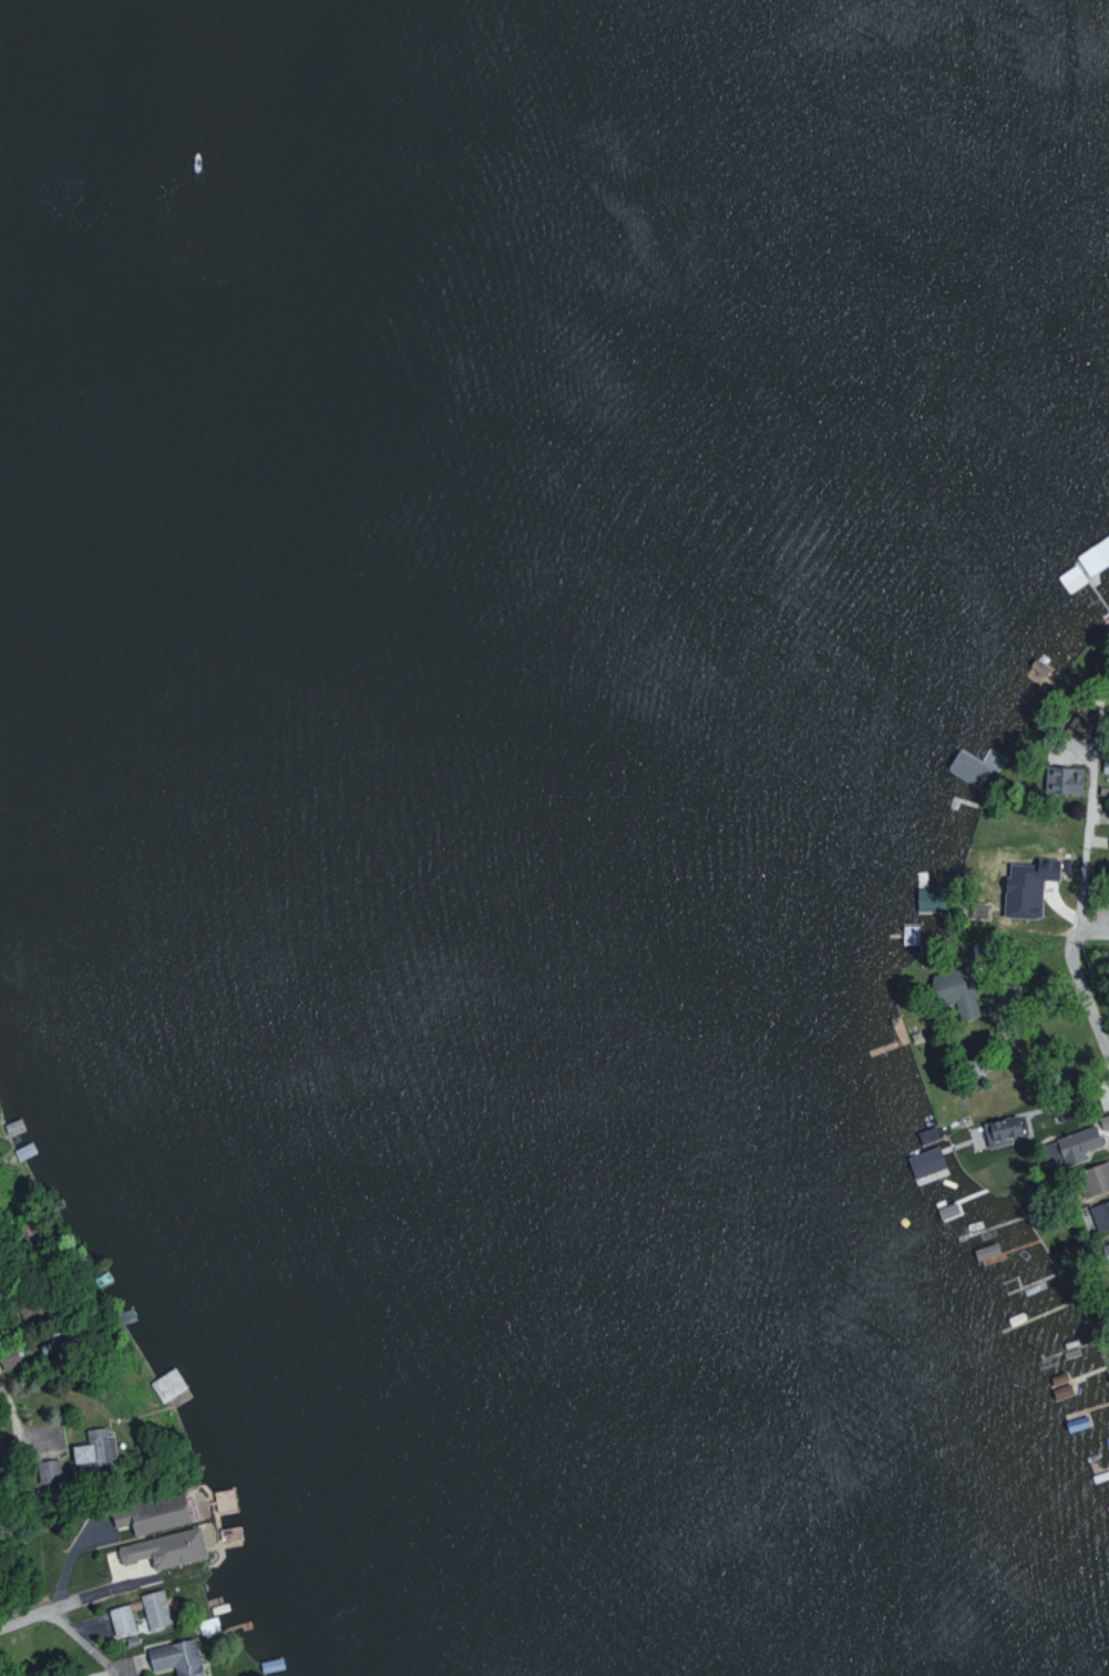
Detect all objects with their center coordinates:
building: (1105, 764)
building: (974, 765)
building: (1061, 779)
road: (1085, 842)
building: (1108, 845)
river: (564, 846)
building: (1026, 886)
road: (1078, 976)
building: (954, 990)
building: (1103, 1122)
building: (1000, 1131)
building: (1070, 1145)
building: (925, 1161)
building: (1093, 1179)
building: (1100, 1212)
building: (1106, 1253)
building: (7, 1359)
building: (90, 1450)
building: (44, 1471)
building: (150, 1514)
building: (164, 1549)
road: (110, 1585)
building: (154, 1608)
road: (24, 1616)
building: (120, 1620)
road: (85, 1642)
building: (175, 1657)

